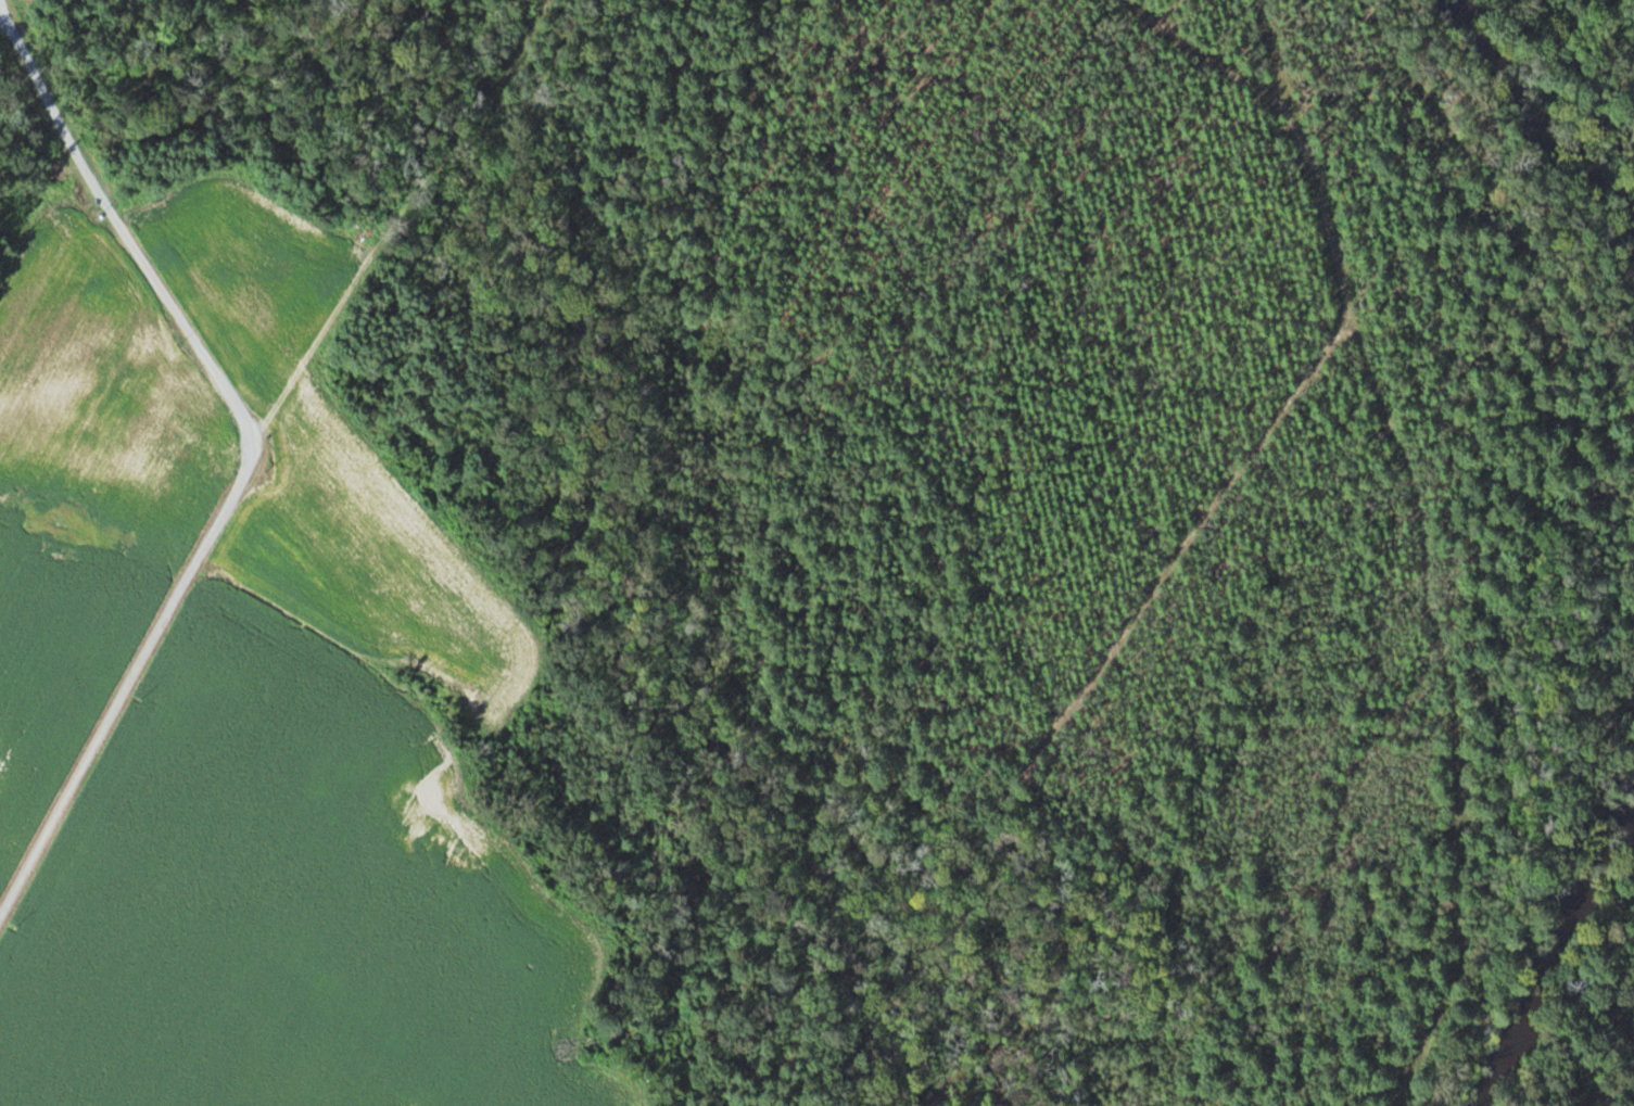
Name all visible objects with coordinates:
river: (1544, 116)
river: (1578, 1005)

